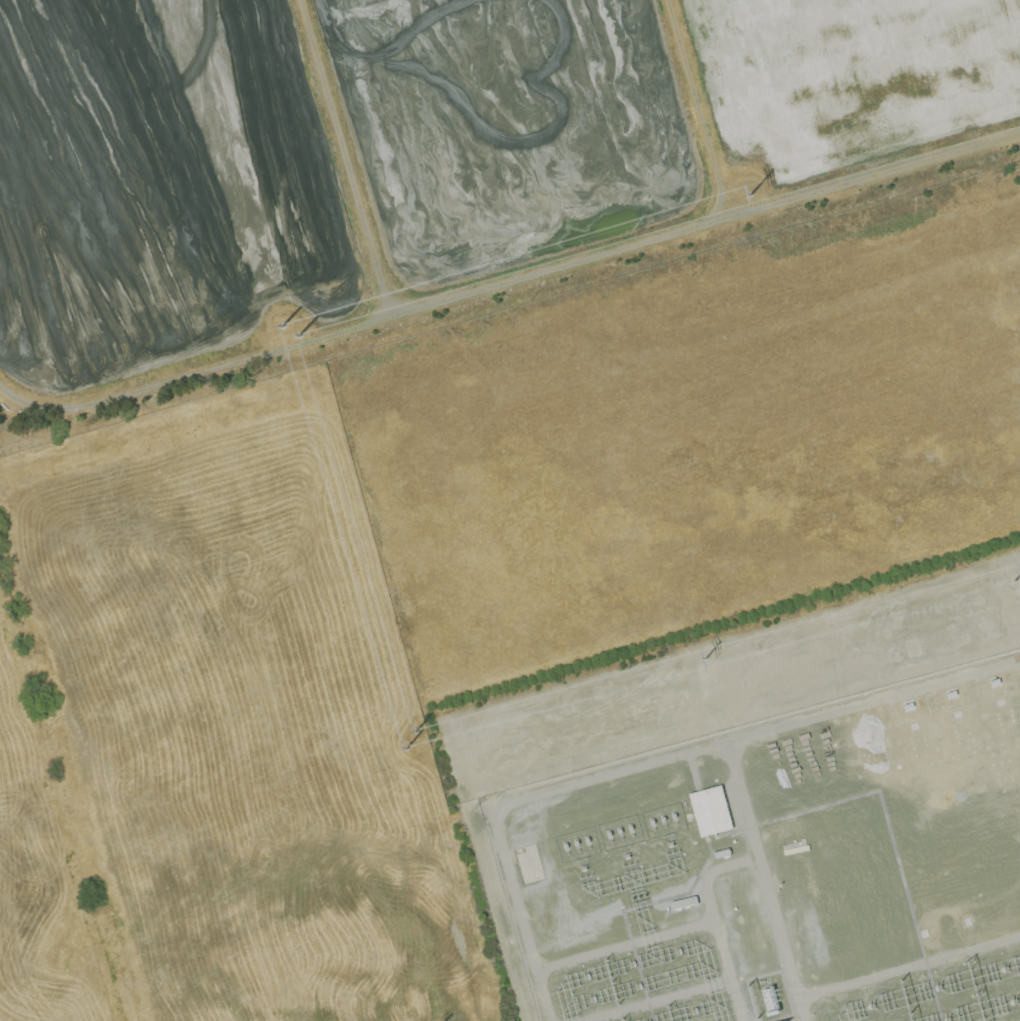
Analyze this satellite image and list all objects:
power tower: (751, 195)
power tower: (281, 327)
power tower: (300, 337)
crop: (699, 441)
power tower: (1015, 579)
building: (710, 810)
power substation: (775, 867)

